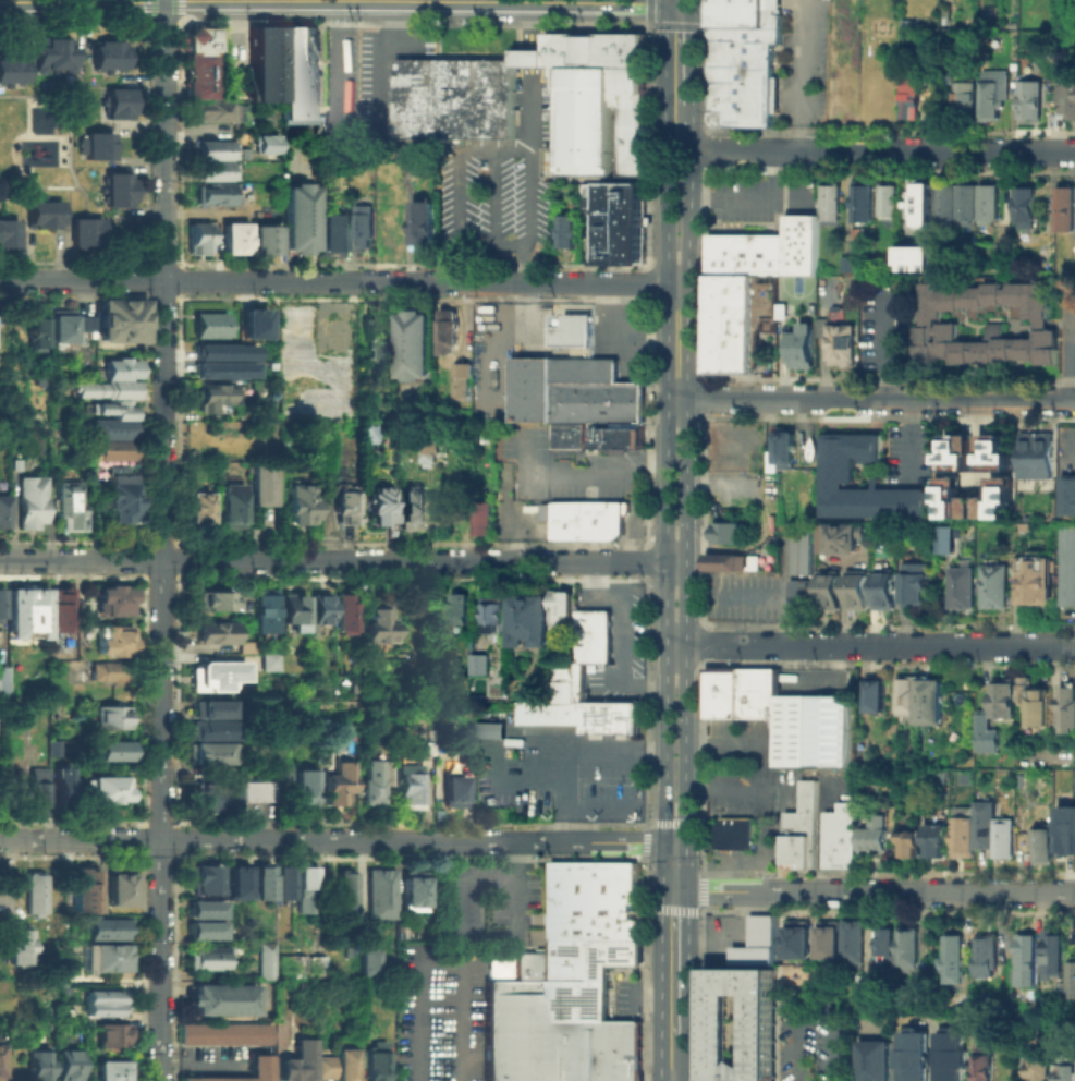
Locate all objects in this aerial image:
road: (374, 0)
road: (82, 1)
road: (427, 1)
road: (541, 1)
road: (668, 1)
road: (691, 2)
traffic signals: (668, 3)
traffic signals: (692, 4)
building: (746, 16)
building: (1068, 17)
road: (532, 42)
building: (199, 45)
road: (693, 52)
building: (598, 56)
road: (335, 58)
building: (58, 59)
building: (108, 60)
building: (264, 71)
building: (13, 74)
road: (795, 75)
building: (300, 78)
building: (743, 78)
road: (41, 96)
building: (997, 98)
building: (967, 99)
building: (913, 100)
building: (119, 104)
building: (457, 104)
building: (1034, 104)
building: (1070, 104)
building: (218, 117)
road: (532, 117)
building: (604, 130)
road: (25, 131)
building: (260, 143)
building: (98, 147)
road: (883, 150)
road: (513, 151)
building: (215, 155)
road: (679, 172)
building: (213, 177)
parking lot: (508, 180)
building: (115, 190)
road: (14, 193)
road: (692, 193)
parking lot: (759, 194)
road: (459, 197)
road: (494, 197)
road: (755, 197)
building: (888, 197)
road: (530, 198)
building: (948, 199)
building: (862, 201)
building: (213, 202)
building: (924, 202)
building: (967, 202)
building: (988, 202)
building: (830, 203)
building: (1025, 206)
building: (1064, 207)
building: (42, 220)
building: (300, 224)
building: (621, 227)
building: (428, 229)
building: (368, 231)
building: (859, 232)
building: (84, 233)
building: (571, 236)
building: (9, 239)
building: (329, 240)
road: (509, 243)
building: (803, 243)
building: (196, 244)
building: (231, 245)
building: (261, 245)
building: (720, 253)
building: (744, 253)
building: (770, 253)
building: (917, 255)
building: (848, 262)
road: (524, 263)
road: (343, 281)
building: (731, 283)
building: (811, 307)
building: (122, 323)
building: (249, 323)
building: (940, 323)
building: (206, 324)
building: (58, 325)
parking lot: (885, 328)
building: (447, 329)
building: (731, 332)
parking lot: (1067, 332)
building: (37, 336)
building: (372, 341)
building: (841, 343)
building: (802, 344)
building: (417, 348)
road: (887, 348)
road: (1072, 348)
building: (221, 350)
building: (221, 368)
building: (120, 371)
building: (577, 380)
building: (467, 385)
building: (108, 390)
road: (871, 398)
building: (216, 399)
building: (109, 409)
road: (161, 420)
road: (668, 422)
building: (109, 430)
building: (366, 432)
road: (911, 436)
building: (600, 437)
building: (430, 446)
building: (785, 447)
road: (1071, 448)
parking lot: (909, 451)
building: (956, 451)
parking lot: (1068, 451)
building: (110, 453)
building: (432, 454)
building: (1036, 454)
road: (594, 466)
building: (838, 467)
building: (990, 470)
building: (261, 487)
building: (481, 489)
building: (1068, 494)
building: (118, 500)
building: (949, 500)
building: (230, 506)
building: (303, 506)
building: (967, 507)
building: (30, 508)
building: (66, 508)
building: (344, 508)
building: (380, 509)
building: (194, 510)
building: (1, 511)
building: (414, 512)
building: (481, 520)
building: (587, 520)
building: (730, 531)
building: (841, 535)
building: (945, 538)
road: (342, 560)
building: (725, 561)
road: (686, 562)
building: (1066, 564)
road: (72, 575)
building: (957, 579)
building: (1035, 579)
building: (915, 581)
building: (993, 584)
building: (830, 588)
building: (884, 590)
building: (856, 591)
building: (799, 592)
building: (209, 599)
road: (843, 603)
building: (112, 604)
building: (1, 605)
building: (560, 605)
building: (60, 609)
building: (290, 611)
building: (27, 612)
building: (262, 612)
building: (463, 612)
building: (319, 614)
building: (343, 617)
building: (498, 617)
building: (534, 621)
building: (376, 624)
building: (590, 632)
building: (215, 634)
parking lot: (612, 639)
building: (113, 642)
road: (870, 644)
building: (245, 649)
building: (265, 660)
building: (481, 663)
building: (108, 675)
building: (218, 677)
building: (563, 678)
building: (2, 684)
building: (1021, 688)
building: (904, 695)
building: (876, 696)
building: (1002, 697)
road: (142, 699)
building: (929, 701)
building: (1040, 707)
building: (1066, 707)
building: (216, 708)
building: (549, 708)
building: (607, 714)
building: (772, 715)
building: (111, 719)
building: (489, 729)
building: (216, 731)
building: (985, 732)
road: (567, 749)
building: (53, 750)
building: (207, 752)
building: (113, 753)
building: (284, 775)
building: (933, 776)
building: (378, 780)
building: (337, 785)
road: (725, 786)
building: (412, 788)
building: (61, 789)
building: (38, 790)
building: (255, 790)
building: (302, 790)
parking lot: (740, 790)
building: (108, 792)
building: (454, 793)
building: (212, 798)
road: (72, 821)
building: (980, 822)
building: (798, 826)
building: (958, 827)
building: (1064, 827)
building: (728, 831)
building: (870, 831)
building: (835, 834)
building: (1000, 834)
building: (932, 837)
road: (332, 840)
building: (906, 840)
building: (1039, 841)
traffic signals: (665, 842)
road: (675, 842)
traffic signals: (685, 842)
road: (761, 860)
road: (670, 866)
road: (680, 866)
building: (233, 879)
building: (205, 880)
building: (259, 880)
building: (280, 882)
building: (115, 888)
building: (302, 888)
building: (32, 891)
building: (84, 891)
traffic signals: (674, 891)
road: (875, 891)
building: (415, 892)
building: (594, 896)
building: (380, 897)
parking lot: (487, 899)
building: (345, 900)
building: (201, 908)
building: (540, 927)
building: (201, 928)
building: (105, 931)
road: (475, 933)
building: (757, 940)
building: (16, 943)
building: (856, 944)
building: (884, 944)
building: (798, 946)
building: (830, 946)
building: (907, 948)
building: (957, 956)
building: (1056, 956)
road: (438, 959)
road: (158, 960)
building: (989, 960)
building: (103, 961)
building: (532, 961)
building: (209, 962)
building: (368, 962)
building: (1030, 962)
building: (266, 967)
road: (674, 967)
building: (586, 971)
building: (1074, 977)
building: (923, 987)
building: (303, 989)
road: (811, 1001)
building: (222, 1003)
building: (102, 1006)
parking lot: (442, 1010)
building: (518, 1029)
building: (742, 1030)
building: (112, 1037)
building: (224, 1037)
parking lot: (815, 1039)
building: (575, 1048)
building: (619, 1048)
building: (917, 1058)
building: (954, 1058)
building: (297, 1060)
road: (667, 1061)
road: (682, 1061)
building: (376, 1062)
building: (878, 1062)
building: (37, 1065)
building: (988, 1065)
building: (66, 1067)
road: (197, 1067)
building: (1041, 1067)
building: (335, 1068)
building: (252, 1071)
building: (112, 1072)
building: (1066, 1073)

